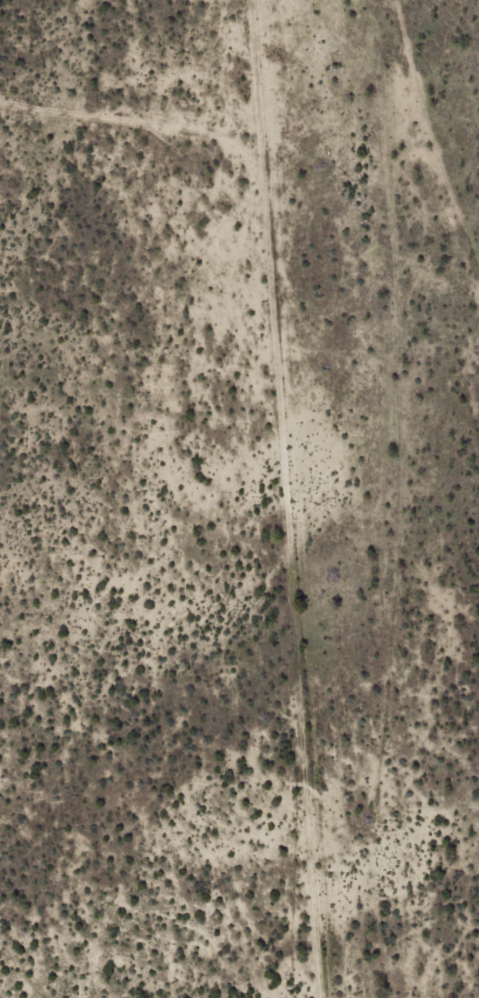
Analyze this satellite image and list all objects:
road: (385, 499)

